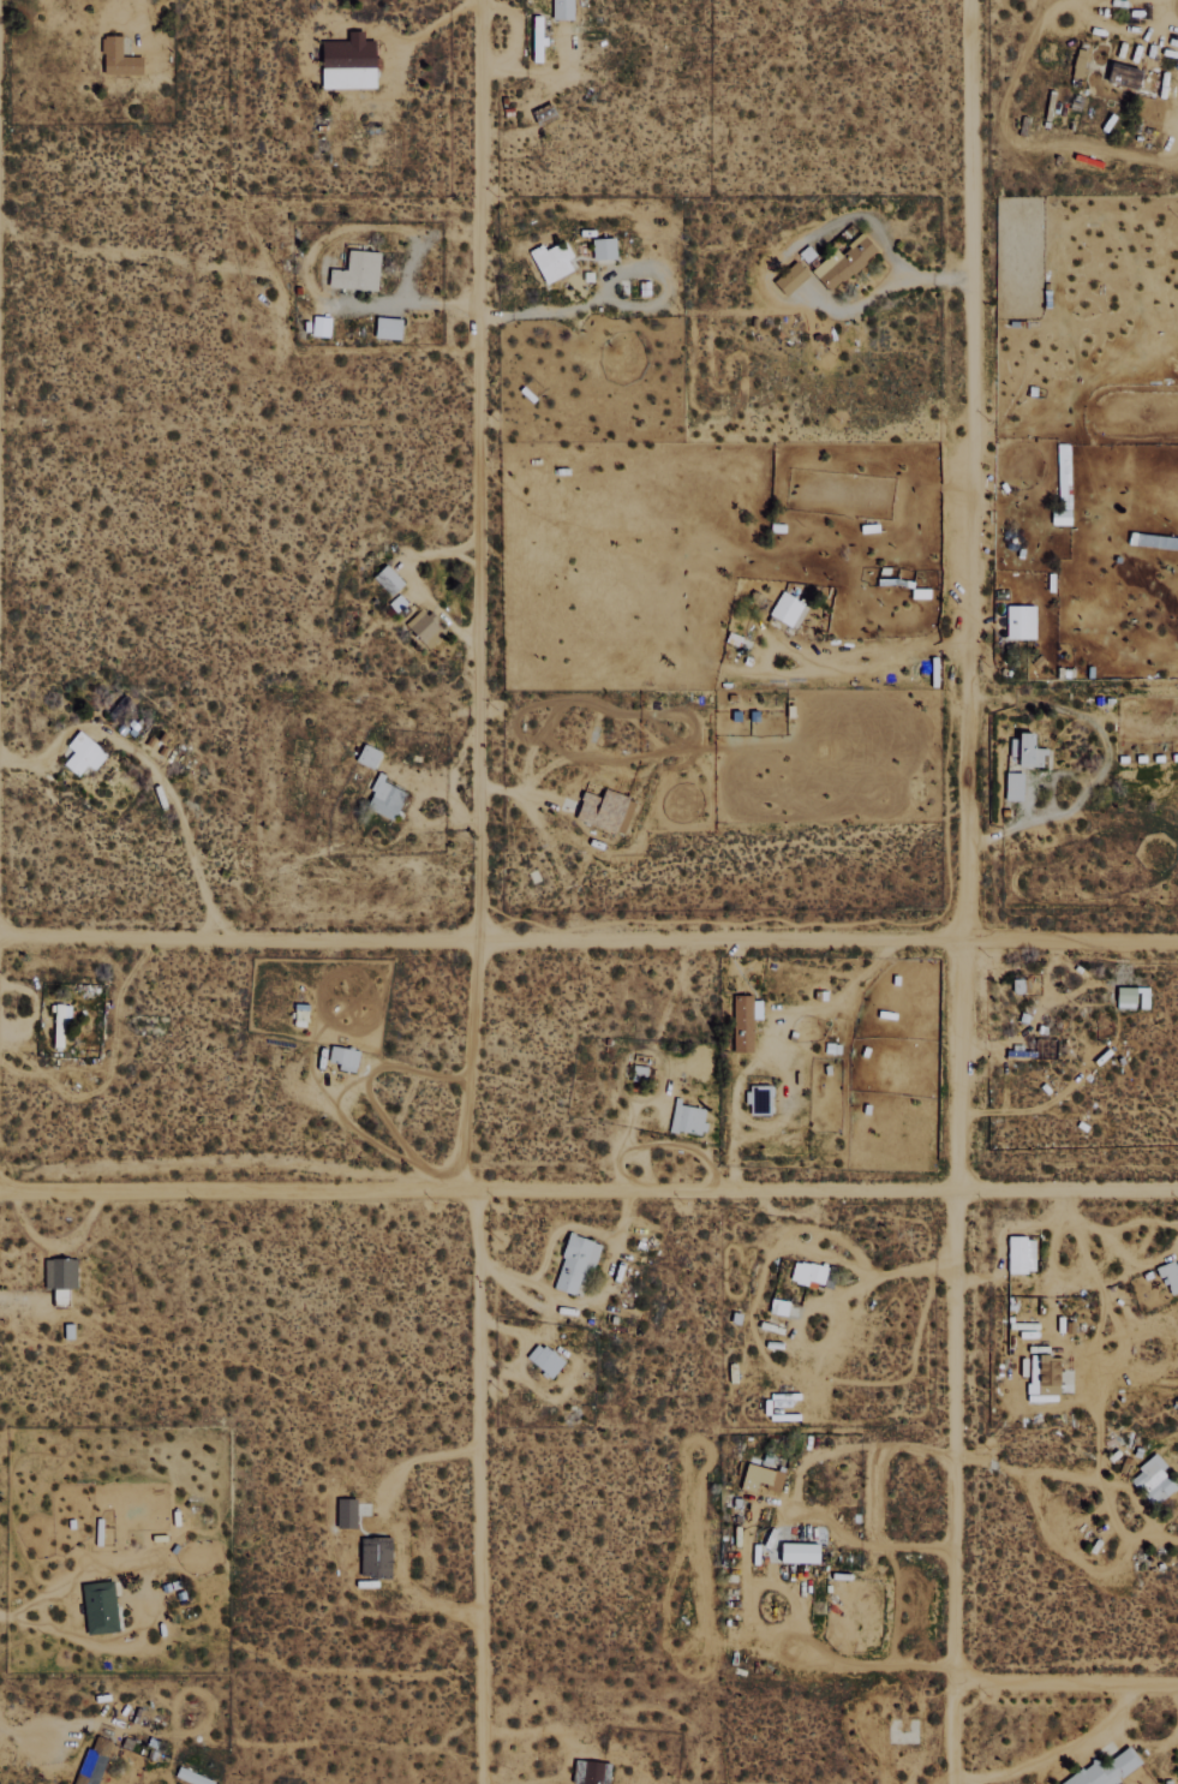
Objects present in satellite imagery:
building: (566, 10)
building: (121, 58)
building: (355, 65)
building: (1119, 74)
building: (600, 247)
building: (548, 259)
building: (841, 262)
building: (354, 270)
building: (788, 278)
building: (317, 326)
building: (384, 327)
building: (384, 578)
building: (784, 609)
building: (1017, 621)
building: (420, 627)
building: (1023, 751)
building: (80, 753)
building: (364, 756)
road: (153, 772)
building: (1011, 786)
building: (382, 799)
road: (470, 891)
road: (957, 891)
road: (588, 938)
building: (1017, 985)
building: (1122, 997)
building: (741, 1021)
building: (56, 1025)
building: (340, 1057)
building: (757, 1099)
building: (686, 1118)
road: (588, 1195)
building: (1018, 1254)
building: (572, 1265)
building: (805, 1272)
building: (58, 1275)
building: (1168, 1275)
building: (540, 1360)
building: (1040, 1378)
building: (758, 1478)
building: (1150, 1481)
building: (343, 1512)
building: (795, 1552)
building: (367, 1559)
building: (97, 1607)
road: (1064, 1679)
road: (1142, 1744)
road: (1057, 1750)
building: (1104, 1770)
building: (590, 1772)

